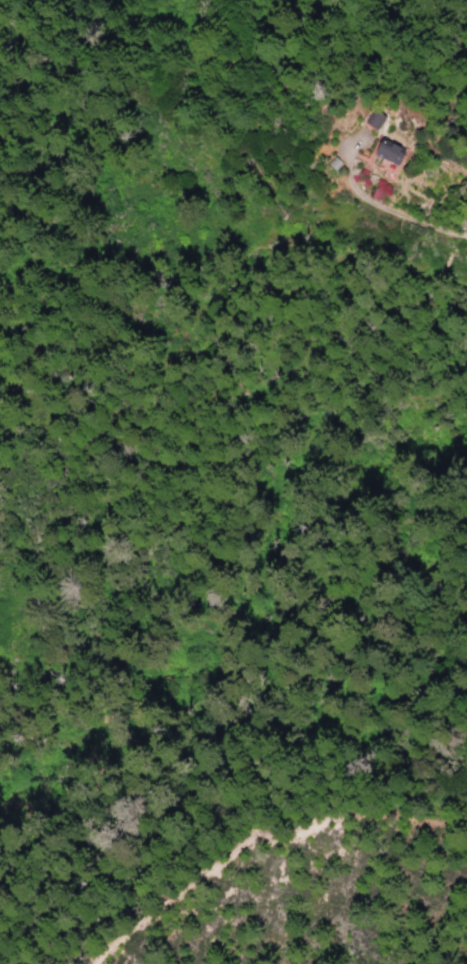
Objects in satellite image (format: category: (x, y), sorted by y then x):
building: (392, 154)
road: (381, 206)
road: (258, 832)

